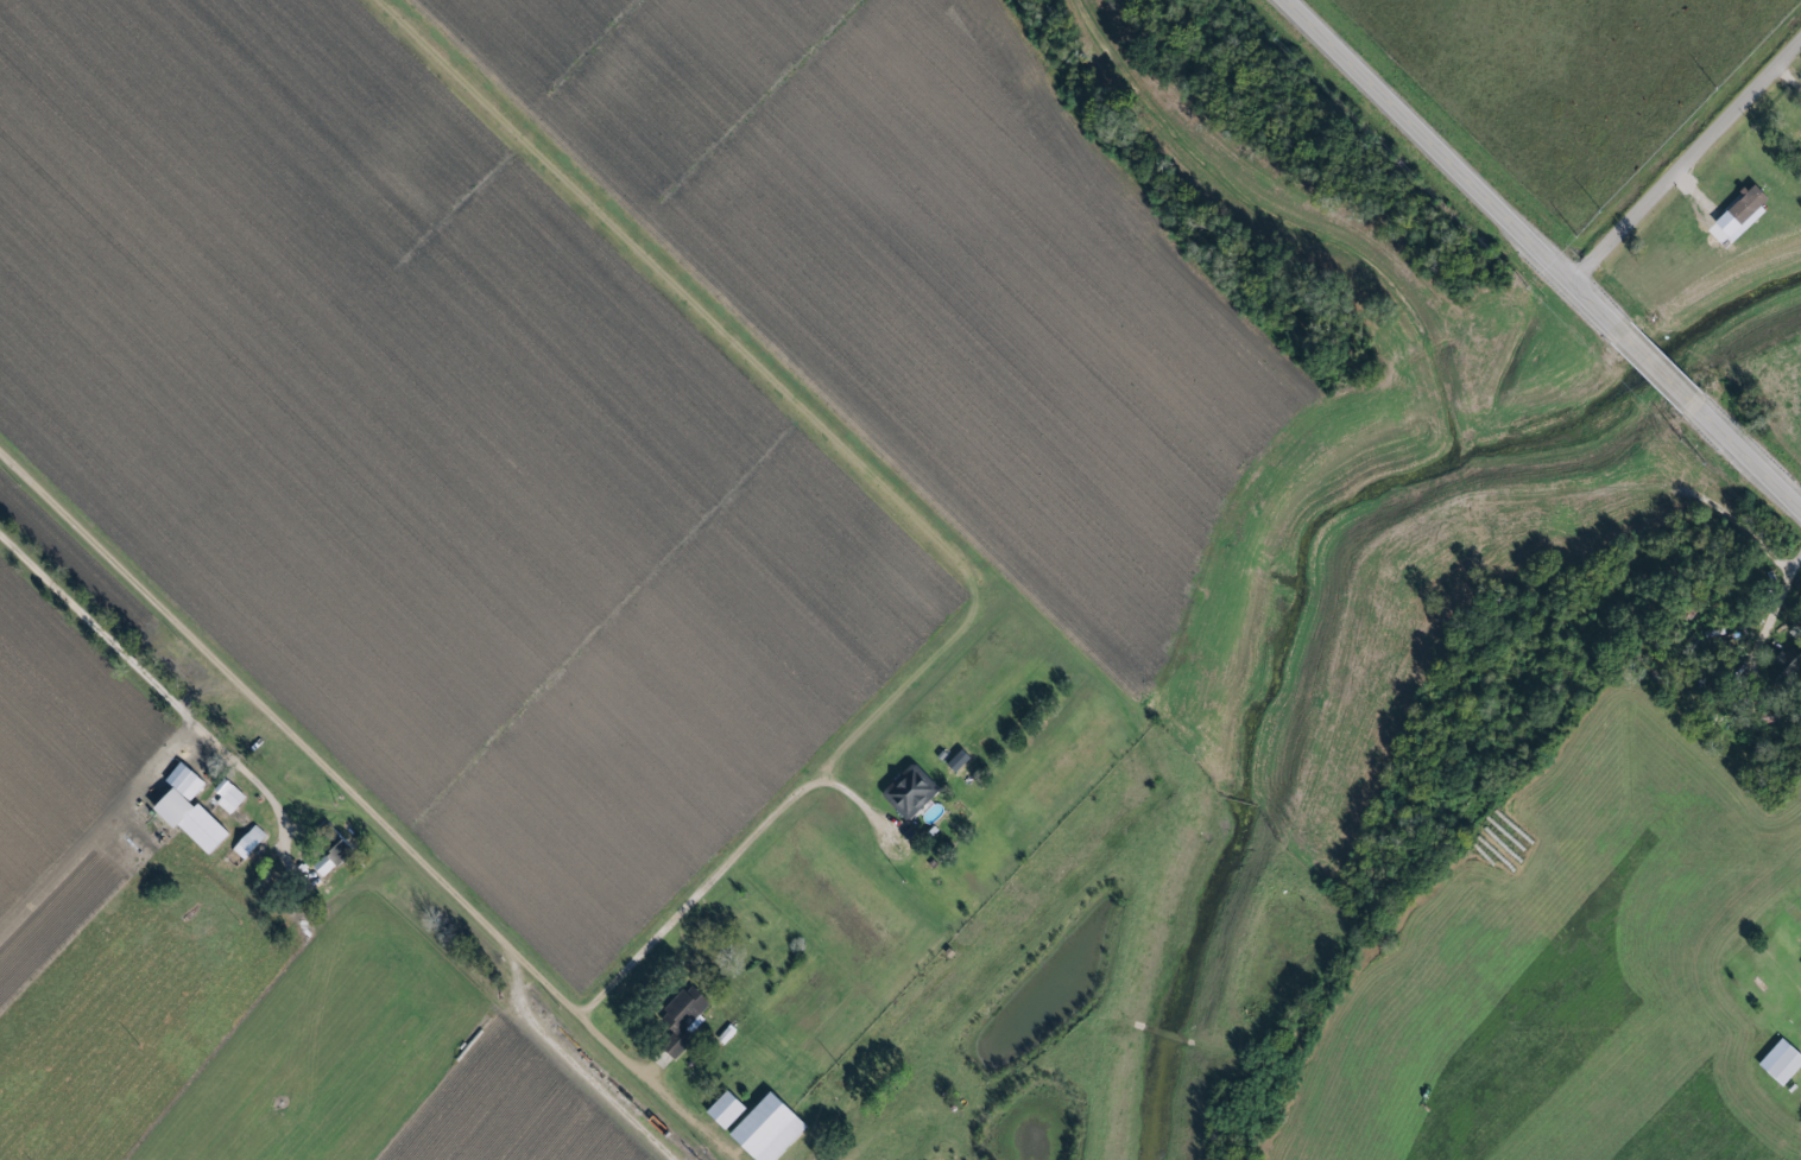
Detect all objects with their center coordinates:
road: (1682, 164)
road: (1440, 165)
building: (1733, 216)
road: (1654, 370)
road: (1748, 461)
building: (1783, 667)
road: (159, 678)
building: (960, 759)
building: (912, 790)
building: (230, 795)
road: (365, 803)
building: (194, 809)
building: (249, 842)
building: (335, 856)
road: (731, 866)
building: (685, 1018)
building: (1784, 1060)
road: (454, 1061)
road: (587, 1075)
building: (729, 1109)
building: (772, 1128)
road: (803, 1152)

